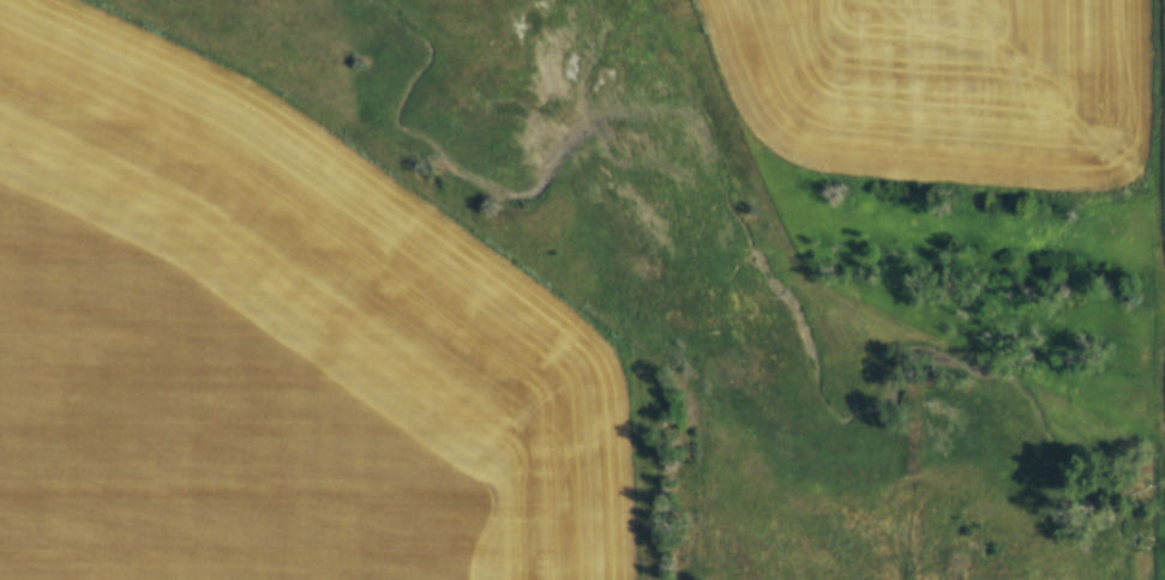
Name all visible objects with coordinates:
crop: (945, 89)
crop: (1160, 113)
crop: (269, 349)

